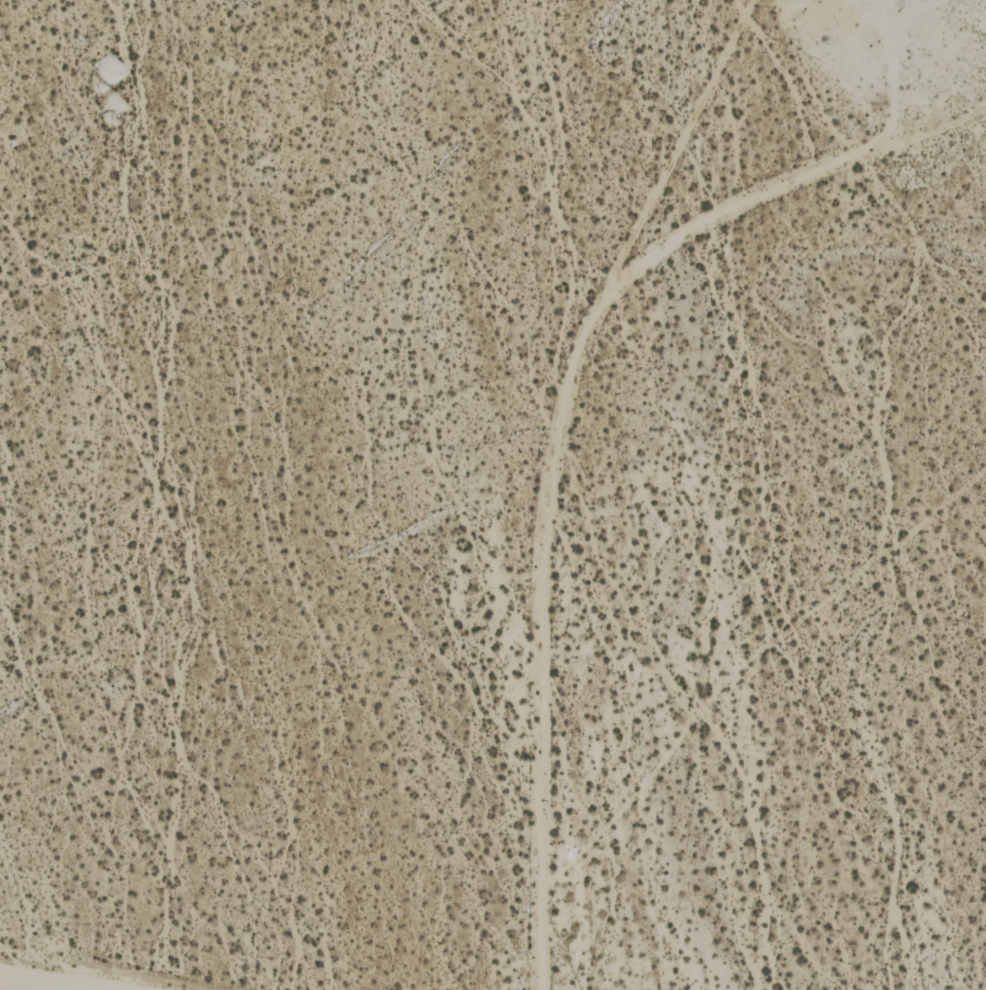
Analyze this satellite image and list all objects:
road: (45, 981)

